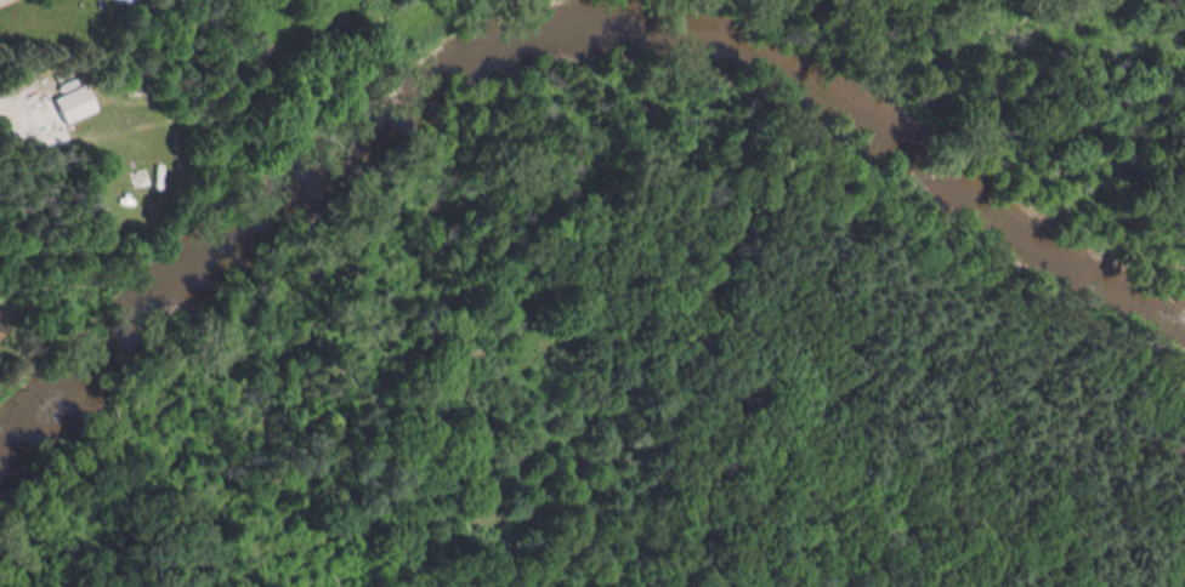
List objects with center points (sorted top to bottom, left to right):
building: (132, 2)
river: (550, 38)
building: (76, 98)

